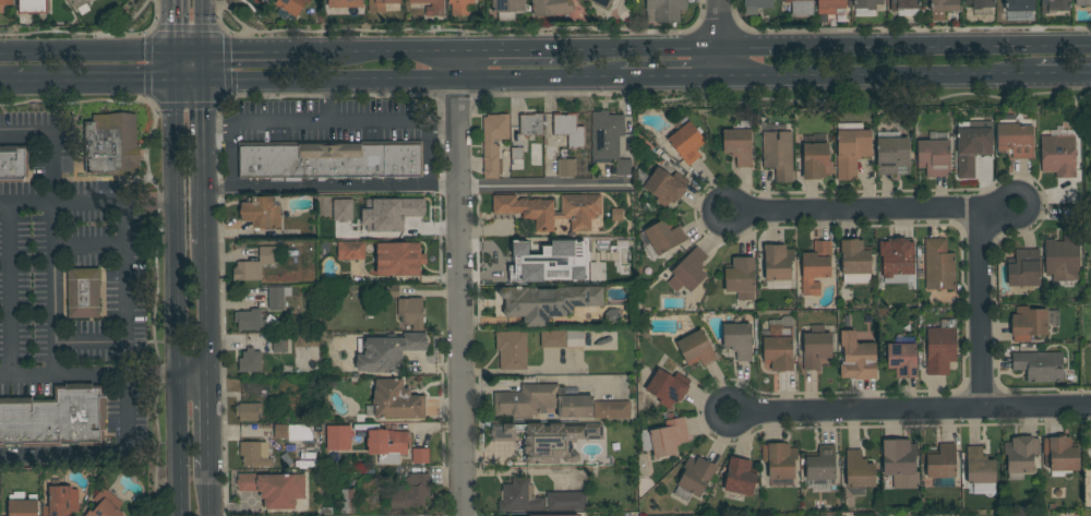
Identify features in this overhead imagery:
building: (80, 2)
building: (602, 2)
building: (1083, 2)
building: (341, 3)
building: (867, 3)
building: (981, 3)
building: (4, 4)
building: (380, 4)
building: (904, 4)
building: (291, 5)
building: (756, 5)
building: (1020, 5)
building: (1054, 5)
building: (33, 7)
building: (432, 7)
building: (460, 7)
building: (552, 7)
building: (801, 7)
building: (832, 8)
building: (942, 8)
building: (507, 9)
building: (667, 10)
road: (718, 10)
traffic signals: (175, 19)
road: (717, 20)
road: (202, 23)
road: (825, 40)
road: (173, 41)
road: (509, 43)
road: (394, 44)
road: (251, 46)
traffic signals: (237, 47)
road: (86, 48)
road: (717, 58)
road: (457, 62)
road: (203, 64)
road: (668, 77)
road: (876, 77)
road: (538, 80)
road: (1064, 80)
road: (329, 81)
road: (190, 83)
road: (94, 84)
traffic signals: (136, 84)
road: (7, 86)
road: (328, 101)
road: (146, 104)
traffic signals: (205, 116)
road: (331, 122)
building: (531, 124)
building: (606, 129)
building: (568, 130)
building: (1016, 136)
building: (493, 142)
building: (686, 142)
building: (111, 144)
building: (739, 146)
building: (851, 148)
building: (972, 148)
building: (550, 153)
road: (430, 154)
building: (517, 154)
building: (778, 154)
road: (230, 155)
building: (892, 155)
building: (1058, 155)
building: (934, 157)
building: (329, 159)
building: (816, 160)
road: (205, 163)
building: (13, 164)
road: (51, 166)
building: (623, 167)
building: (566, 168)
road: (332, 185)
building: (663, 185)
road: (537, 187)
road: (1032, 200)
road: (115, 201)
building: (552, 209)
building: (341, 211)
road: (709, 211)
road: (872, 211)
building: (261, 213)
building: (413, 215)
building: (664, 237)
road: (89, 247)
building: (351, 250)
building: (855, 257)
building: (1063, 257)
building: (399, 259)
building: (897, 260)
building: (515, 261)
building: (778, 263)
building: (255, 264)
building: (939, 265)
building: (816, 267)
building: (1024, 268)
road: (127, 269)
building: (688, 271)
building: (550, 274)
building: (594, 274)
building: (741, 277)
road: (52, 288)
road: (12, 289)
building: (392, 291)
building: (83, 292)
building: (359, 295)
building: (277, 297)
road: (459, 298)
road: (178, 299)
building: (548, 302)
road: (979, 309)
building: (411, 312)
road: (208, 314)
building: (251, 320)
building: (1028, 324)
building: (575, 338)
building: (553, 339)
building: (739, 340)
road: (93, 345)
building: (279, 345)
building: (816, 347)
building: (942, 347)
building: (697, 348)
building: (779, 348)
building: (512, 350)
building: (388, 351)
building: (902, 360)
building: (250, 361)
building: (858, 361)
building: (1040, 367)
road: (104, 375)
road: (527, 382)
building: (668, 387)
building: (395, 401)
building: (543, 401)
building: (611, 410)
road: (919, 410)
building: (248, 411)
road: (747, 413)
building: (56, 418)
road: (211, 425)
building: (293, 432)
building: (338, 437)
building: (669, 437)
building: (548, 440)
building: (386, 445)
road: (98, 453)
building: (255, 454)
building: (1060, 454)
building: (420, 455)
building: (1021, 456)
building: (902, 457)
building: (781, 460)
building: (942, 463)
building: (820, 464)
building: (980, 466)
building: (859, 470)
building: (696, 476)
building: (741, 477)
building: (274, 489)
road: (212, 492)
building: (412, 492)
building: (519, 496)
building: (60, 499)
building: (347, 501)
building: (566, 501)
building: (106, 504)
building: (23, 505)
building: (565, 515)

